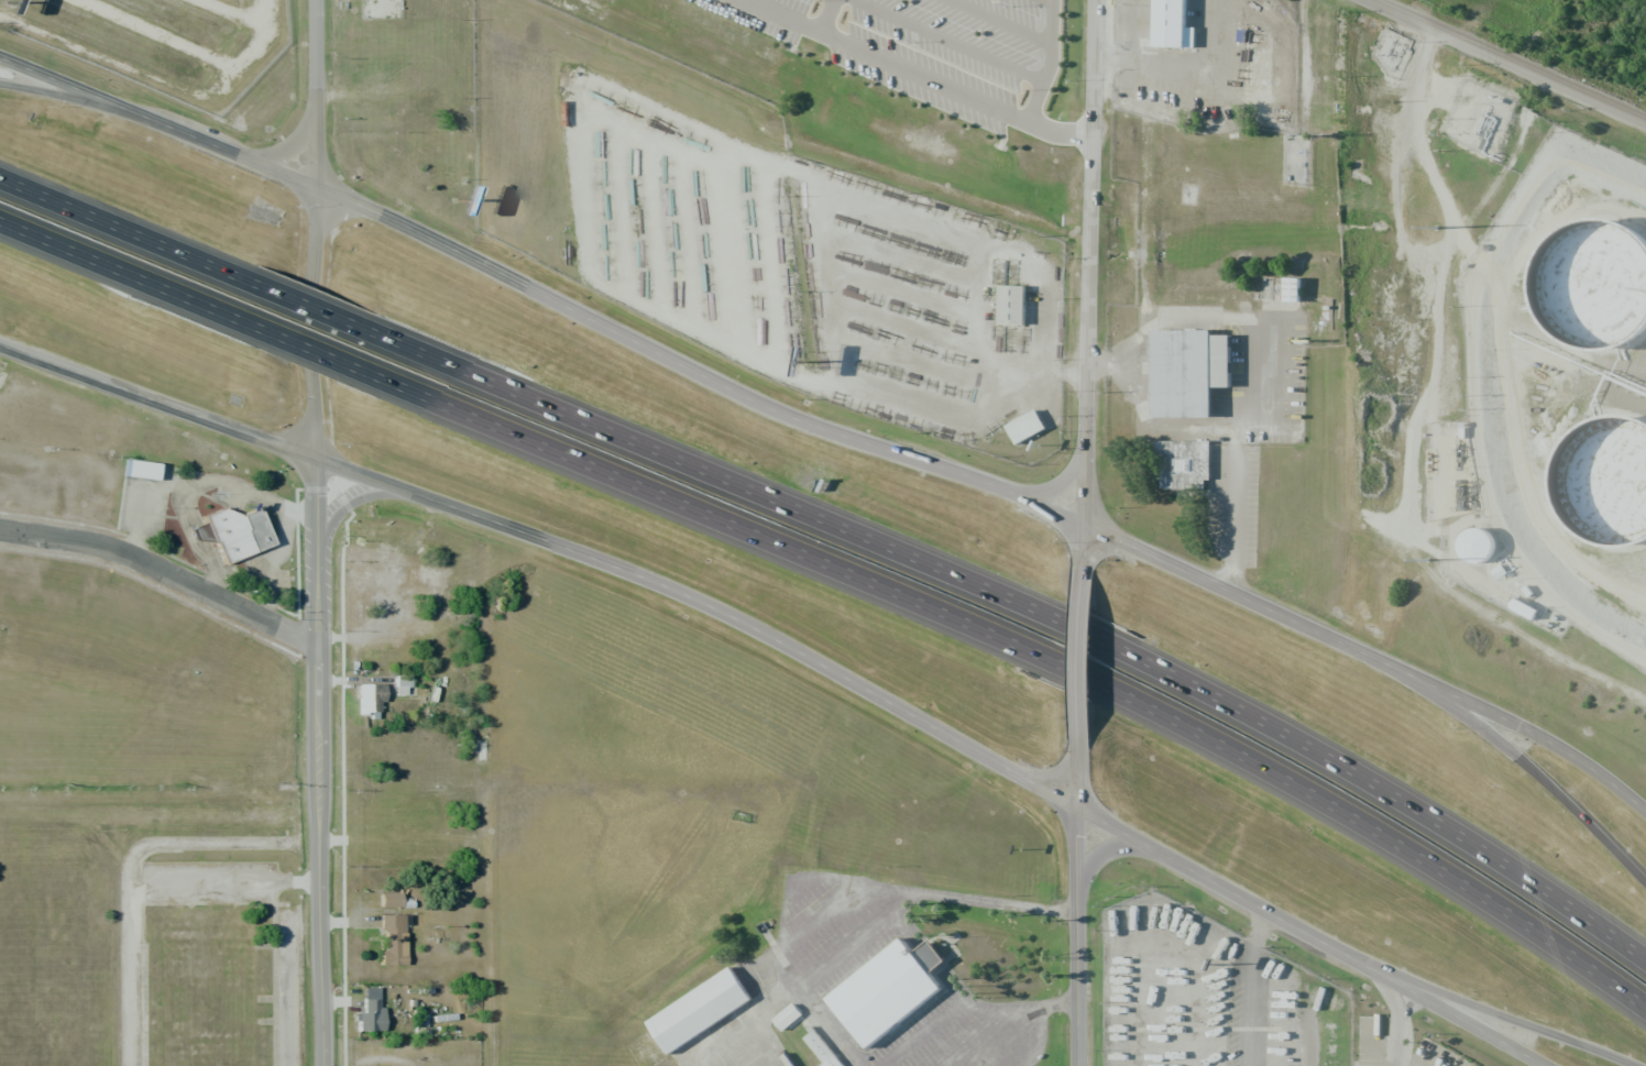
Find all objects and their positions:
road: (832, 17)
building: (1176, 26)
road: (1507, 59)
road: (1054, 63)
road: (917, 73)
road: (56, 94)
road: (158, 122)
road: (130, 227)
power tower: (1433, 228)
road: (130, 277)
road: (1088, 282)
building: (1292, 289)
building: (1602, 294)
storage tank: (1602, 294)
building: (1017, 308)
road: (330, 310)
road: (332, 362)
building: (1188, 371)
building: (1030, 429)
road: (652, 444)
building: (1183, 464)
building: (140, 470)
road: (987, 486)
building: (1611, 487)
storage tank: (1611, 487)
road: (650, 496)
road: (315, 532)
building: (199, 534)
building: (239, 534)
building: (1475, 545)
power tower: (1428, 560)
road: (164, 568)
road: (1075, 625)
road: (797, 651)
road: (1079, 655)
building: (400, 684)
road: (1101, 690)
building: (370, 697)
road: (1521, 762)
road: (1448, 831)
road: (1479, 891)
road: (1075, 904)
building: (393, 941)
road: (1248, 987)
building: (890, 1000)
road: (1499, 1010)
building: (370, 1011)
building: (704, 1014)
building: (791, 1019)
building: (822, 1049)

